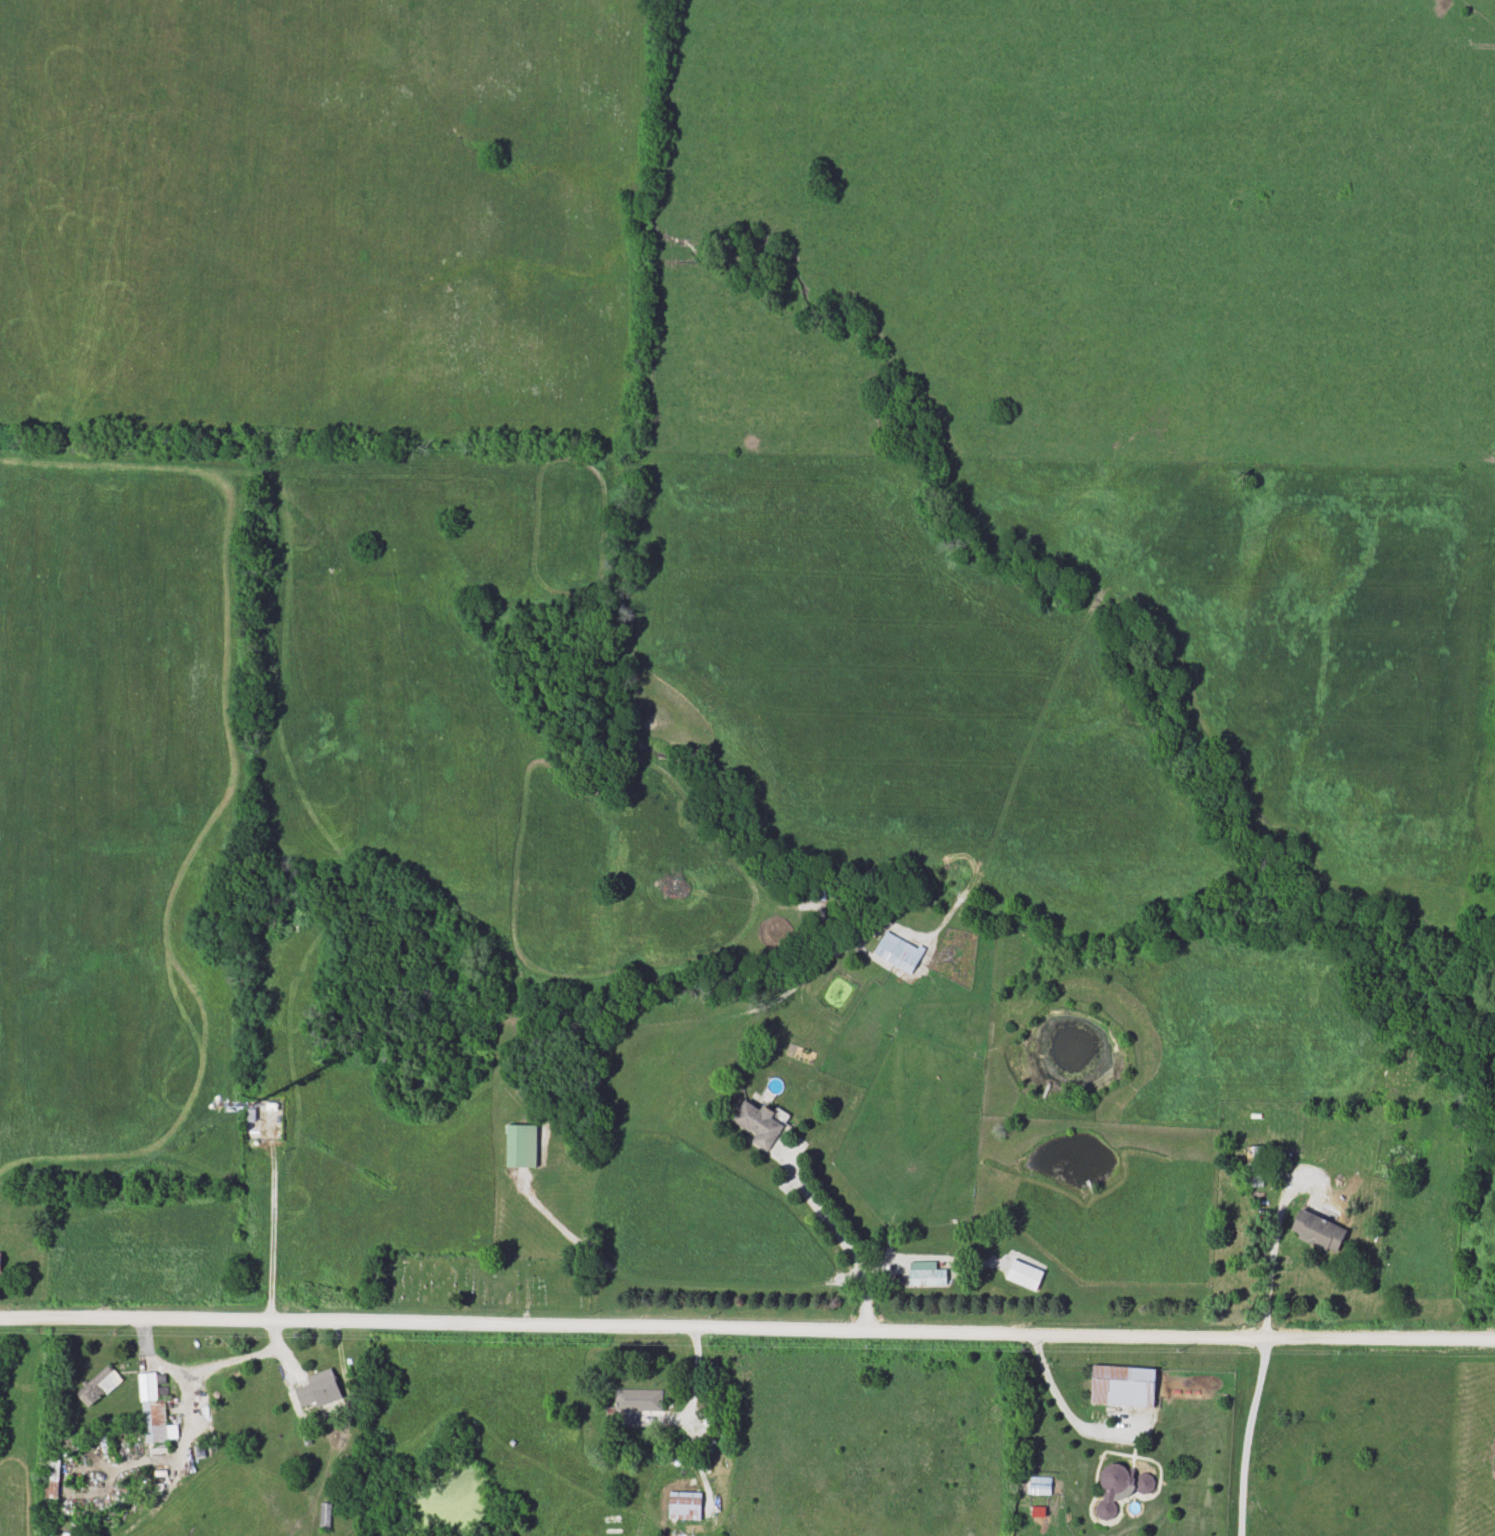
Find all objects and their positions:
road: (228, 576)
building: (897, 954)
building: (757, 1127)
building: (520, 1147)
building: (1254, 1169)
road: (269, 1231)
building: (1317, 1233)
road: (844, 1241)
road: (1267, 1271)
building: (926, 1275)
park: (480, 1284)
road: (527, 1302)
road: (747, 1332)
building: (98, 1387)
building: (1122, 1387)
building: (317, 1391)
building: (638, 1401)
road: (1055, 1404)
building: (152, 1412)
road: (1247, 1437)
building: (50, 1479)
building: (1119, 1489)
building: (684, 1506)
building: (325, 1518)

